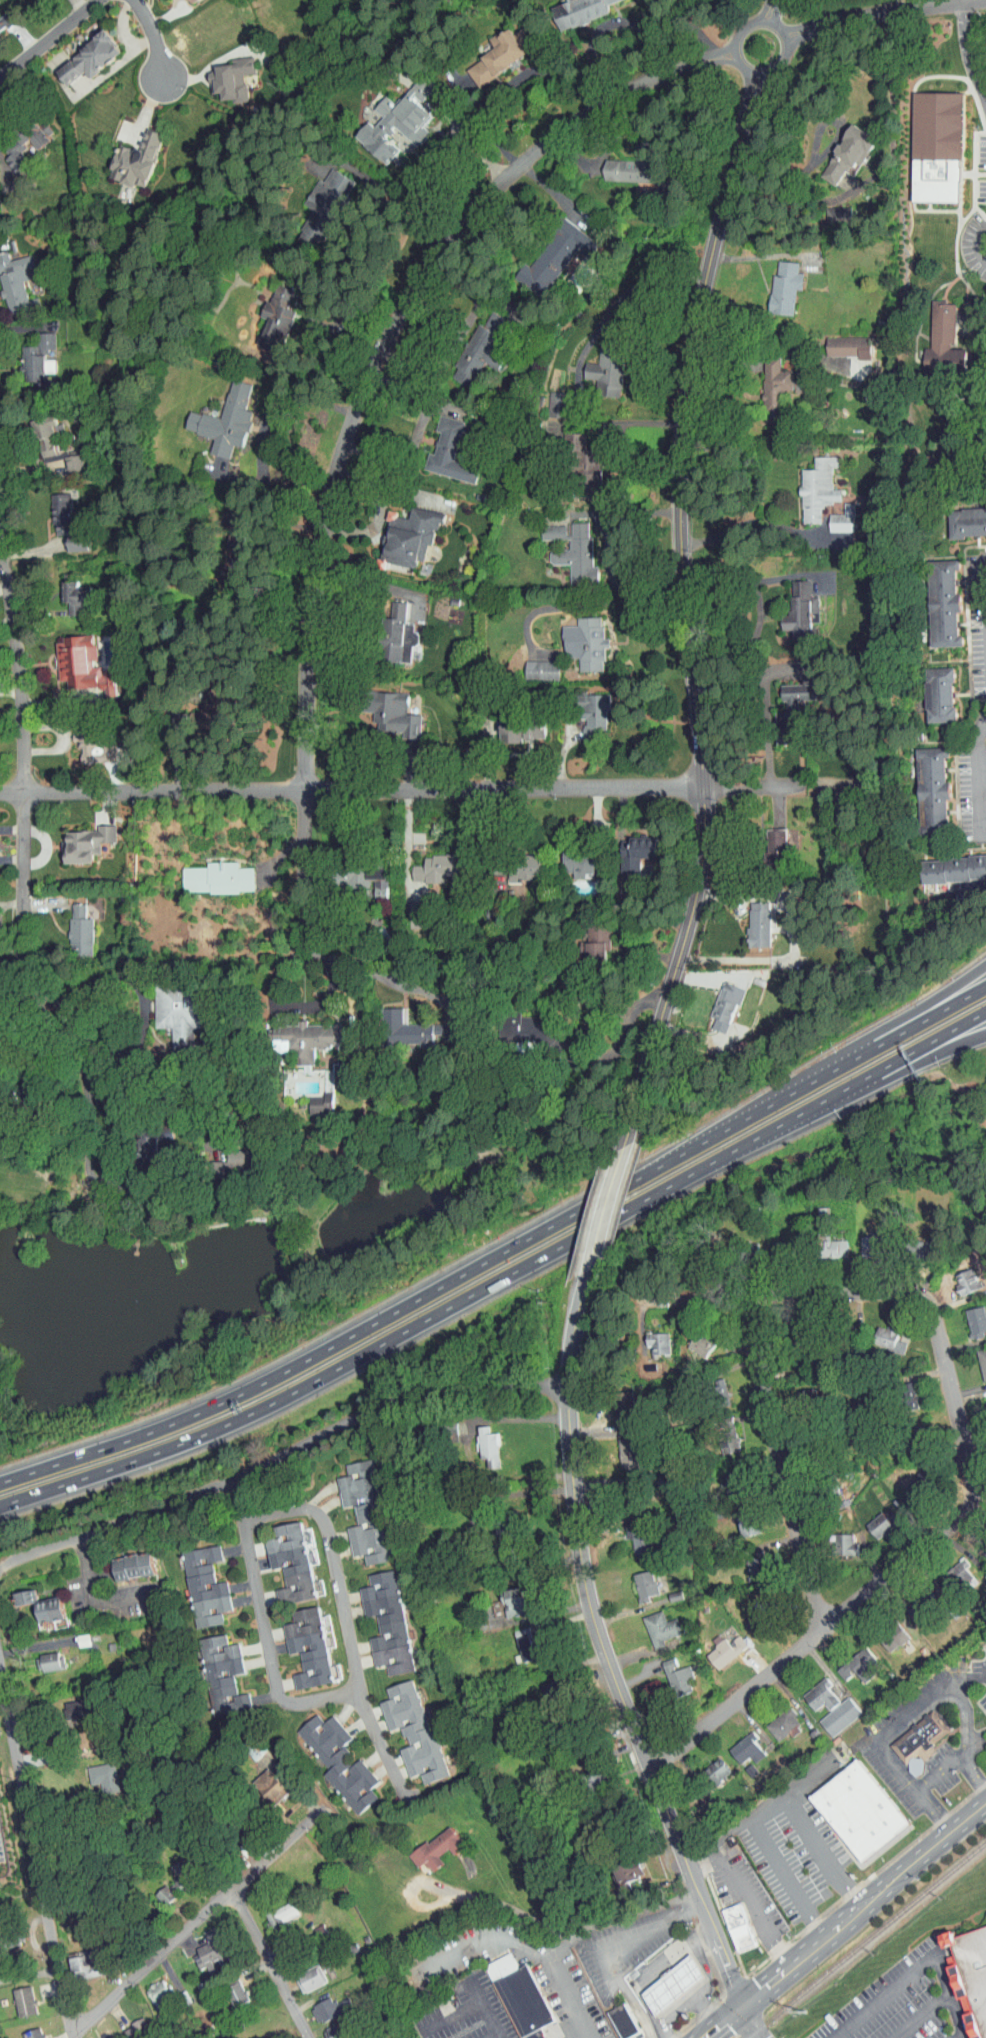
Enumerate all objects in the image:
building: (570, 8)
road: (768, 10)
road: (883, 12)
road: (627, 25)
road: (44, 36)
road: (151, 36)
building: (493, 48)
building: (82, 51)
road: (971, 52)
road: (738, 63)
building: (223, 72)
building: (389, 115)
building: (7, 139)
building: (929, 140)
building: (840, 147)
building: (128, 154)
road: (429, 154)
building: (627, 161)
building: (316, 198)
building: (830, 210)
road: (404, 215)
road: (977, 243)
building: (543, 252)
building: (9, 278)
building: (775, 281)
road: (618, 300)
building: (267, 313)
road: (323, 334)
building: (935, 336)
building: (839, 341)
building: (473, 343)
building: (28, 352)
building: (600, 361)
building: (765, 383)
building: (547, 399)
building: (216, 415)
road: (359, 415)
building: (37, 429)
road: (255, 429)
road: (415, 433)
building: (440, 446)
building: (575, 451)
building: (64, 457)
building: (809, 482)
building: (833, 514)
building: (57, 517)
building: (963, 517)
road: (757, 524)
building: (544, 526)
building: (401, 530)
building: (568, 549)
road: (742, 574)
road: (379, 584)
building: (66, 592)
building: (937, 597)
road: (601, 603)
building: (790, 603)
road: (688, 611)
road: (7, 621)
building: (390, 628)
building: (576, 637)
building: (73, 660)
building: (532, 664)
road: (755, 672)
building: (789, 686)
building: (932, 689)
road: (9, 692)
building: (208, 703)
building: (385, 709)
building: (586, 711)
building: (511, 724)
road: (985, 738)
road: (21, 743)
building: (85, 743)
road: (982, 774)
building: (925, 781)
road: (441, 786)
building: (769, 836)
building: (79, 837)
building: (630, 847)
building: (570, 857)
building: (426, 863)
building: (517, 863)
building: (950, 863)
building: (208, 872)
building: (482, 908)
building: (410, 910)
building: (751, 918)
building: (71, 926)
building: (588, 938)
road: (792, 939)
road: (377, 971)
building: (717, 996)
building: (168, 1006)
road: (285, 1007)
road: (904, 1016)
building: (402, 1024)
road: (907, 1028)
building: (298, 1034)
road: (135, 1036)
road: (916, 1049)
road: (916, 1064)
road: (104, 1072)
road: (816, 1079)
road: (87, 1083)
building: (313, 1098)
road: (827, 1099)
building: (230, 1151)
road: (607, 1207)
building: (861, 1241)
building: (824, 1242)
building: (957, 1276)
road: (801, 1294)
road: (410, 1303)
building: (968, 1316)
road: (412, 1327)
building: (879, 1333)
building: (648, 1338)
building: (691, 1341)
building: (978, 1358)
building: (710, 1379)
road: (955, 1400)
building: (983, 1401)
building: (719, 1435)
building: (480, 1440)
building: (618, 1447)
road: (281, 1455)
road: (784, 1460)
building: (726, 1472)
building: (355, 1506)
building: (872, 1517)
building: (739, 1518)
building: (631, 1535)
building: (836, 1538)
building: (282, 1556)
building: (748, 1558)
building: (126, 1559)
road: (336, 1564)
building: (952, 1565)
building: (635, 1579)
building: (196, 1580)
building: (16, 1590)
road: (258, 1590)
road: (99, 1593)
building: (505, 1595)
building: (41, 1603)
building: (748, 1614)
building: (377, 1615)
building: (651, 1622)
road: (809, 1637)
building: (519, 1638)
building: (299, 1640)
building: (716, 1644)
road: (607, 1645)
building: (40, 1656)
building: (850, 1659)
building: (213, 1668)
building: (668, 1671)
building: (812, 1689)
building: (68, 1702)
building: (830, 1710)
road: (966, 1716)
building: (773, 1718)
road: (902, 1719)
building: (404, 1726)
building: (982, 1732)
building: (911, 1734)
building: (738, 1743)
road: (385, 1752)
building: (329, 1756)
building: (707, 1765)
building: (94, 1771)
building: (590, 1773)
road: (938, 1773)
road: (973, 1774)
building: (263, 1778)
road: (791, 1789)
road: (614, 1799)
building: (862, 1810)
road: (932, 1811)
road: (729, 1835)
building: (428, 1842)
road: (36, 1846)
road: (823, 1851)
building: (175, 1866)
road: (788, 1879)
building: (159, 1886)
road: (455, 1892)
road: (748, 1899)
building: (272, 1908)
road: (620, 1916)
road: (194, 1917)
building: (730, 1921)
road: (844, 1921)
railway: (866, 1940)
road: (484, 1943)
road: (273, 1959)
building: (78, 1961)
road: (657, 1966)
road: (705, 1970)
road: (30, 1973)
building: (301, 1973)
building: (971, 1974)
building: (664, 1978)
road: (902, 1984)
building: (227, 1987)
building: (149, 1988)
building: (512, 1992)
building: (15, 1994)
road: (570, 1998)
traffic signals: (746, 2002)
building: (321, 2003)
road: (470, 2005)
road: (686, 2005)
road: (957, 2015)
building: (617, 2016)
road: (921, 2016)
road: (752, 2020)
building: (129, 2024)
building: (325, 2028)
building: (25, 2030)
road: (75, 2031)
road: (490, 2035)
building: (93, 2036)
road: (961, 2036)

